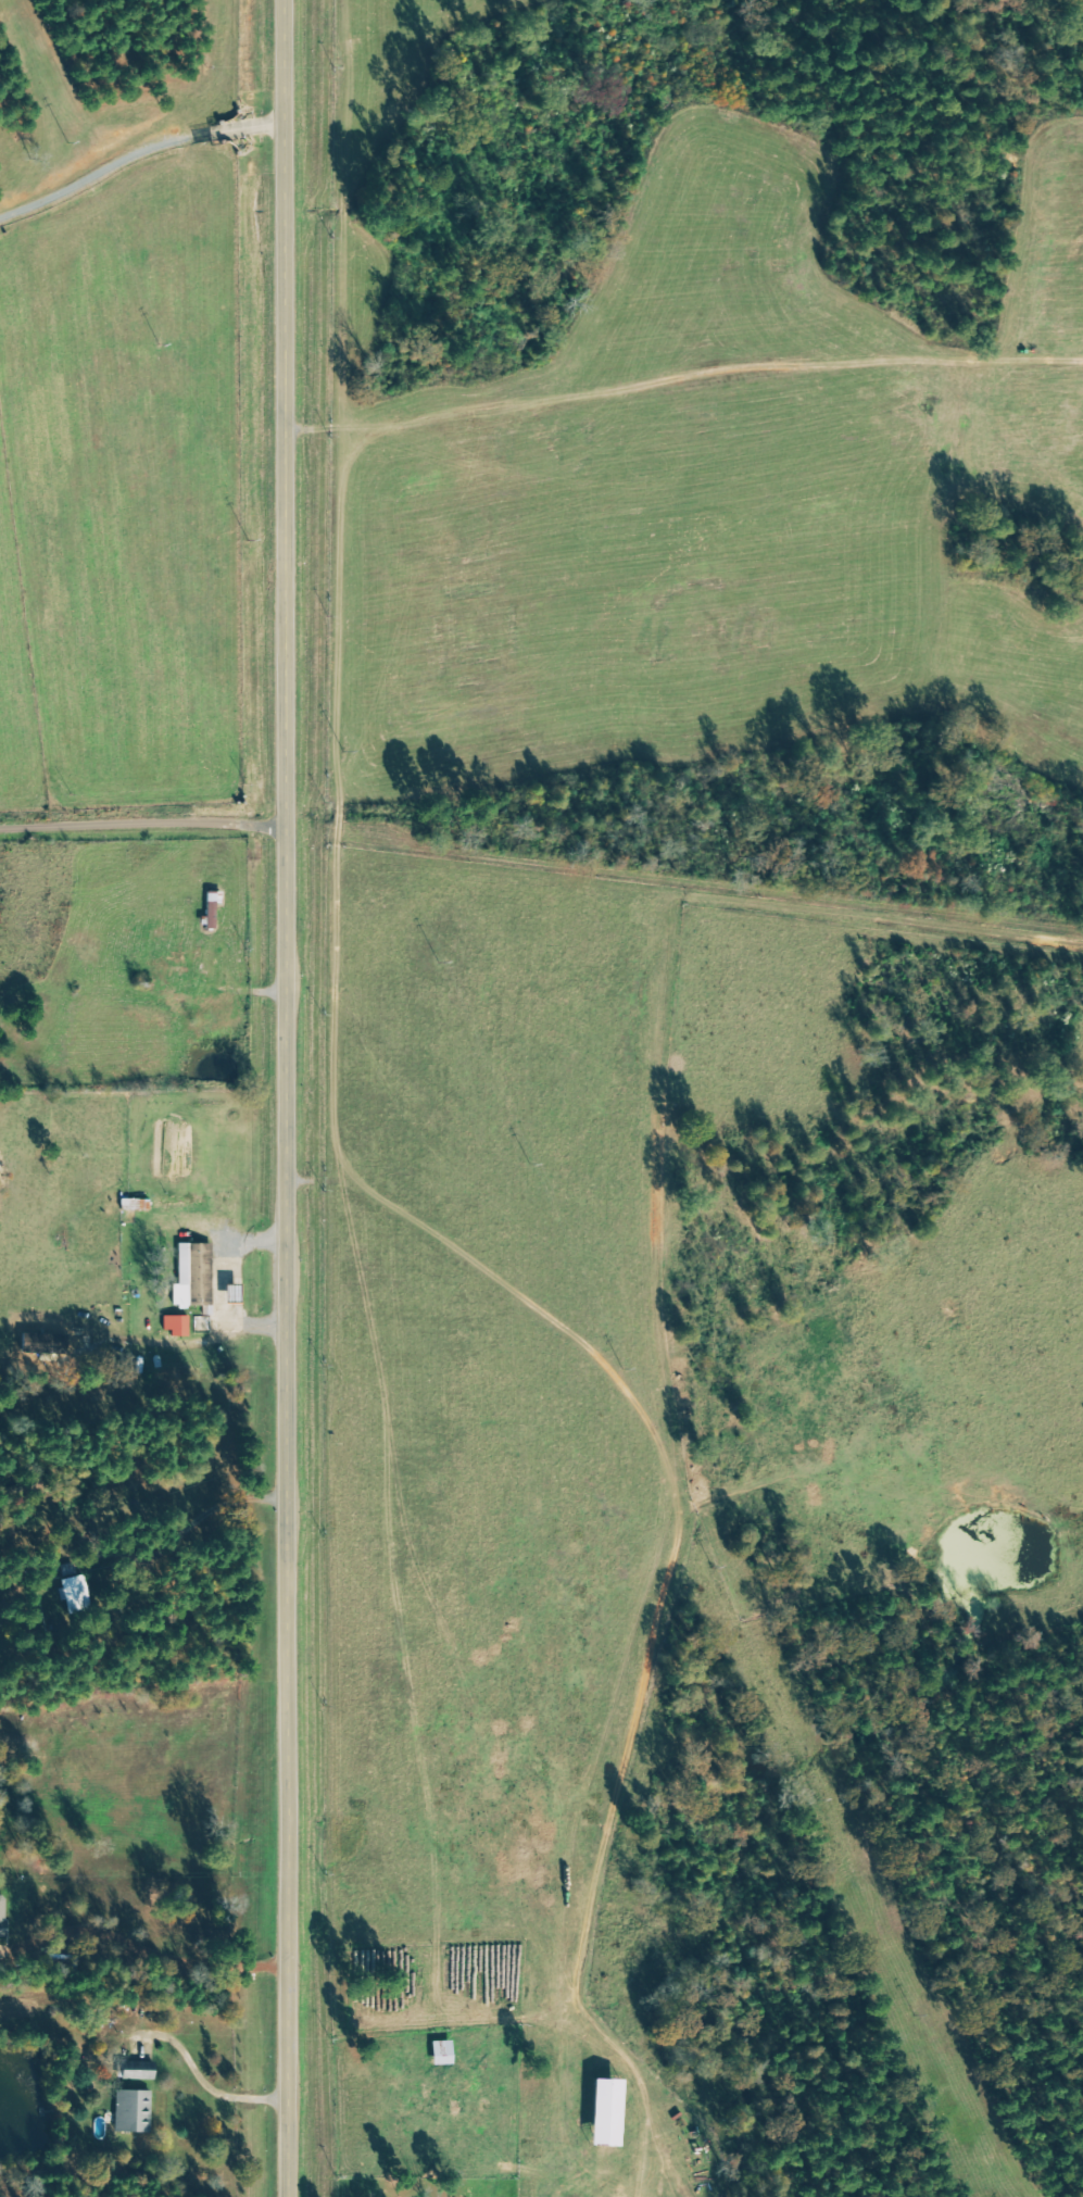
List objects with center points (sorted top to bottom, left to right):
road: (680, 381)
road: (142, 828)
road: (285, 1098)
building: (192, 1277)
building: (73, 1593)
road: (142, 1775)
building: (1, 1918)
building: (441, 2052)
building: (137, 2069)
road: (203, 2082)
building: (131, 2109)
building: (608, 2112)

